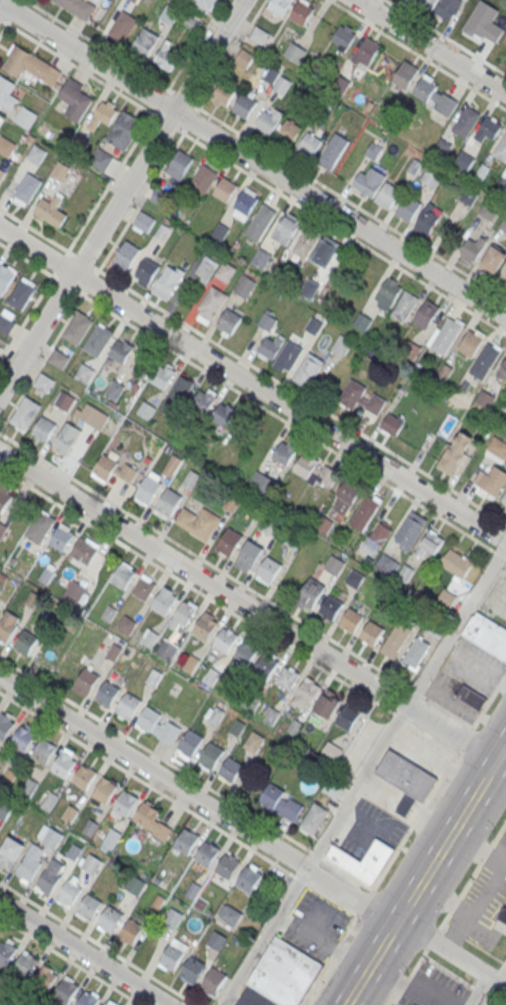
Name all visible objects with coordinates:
road: (0, 0)
building: (133, 1)
building: (205, 3)
building: (427, 3)
building: (279, 6)
building: (77, 8)
building: (448, 8)
building: (301, 11)
road: (10, 17)
building: (484, 23)
building: (122, 26)
building: (499, 34)
building: (258, 35)
building: (343, 36)
road: (446, 36)
building: (145, 42)
road: (432, 45)
building: (365, 51)
building: (295, 52)
road: (417, 54)
building: (244, 58)
building: (30, 66)
building: (270, 74)
building: (405, 75)
building: (340, 84)
building: (283, 85)
building: (7, 94)
building: (223, 94)
building: (434, 94)
building: (76, 99)
building: (244, 105)
building: (102, 114)
building: (25, 117)
building: (268, 119)
building: (1, 121)
building: (465, 121)
building: (487, 129)
building: (123, 130)
building: (48, 132)
building: (288, 134)
building: (5, 145)
building: (308, 146)
building: (442, 147)
building: (501, 148)
road: (265, 149)
building: (373, 150)
building: (332, 151)
building: (36, 154)
road: (252, 158)
building: (101, 160)
building: (464, 160)
building: (179, 164)
building: (415, 166)
building: (482, 171)
building: (1, 173)
road: (253, 176)
building: (431, 177)
building: (203, 179)
road: (111, 180)
building: (372, 182)
building: (502, 185)
building: (26, 189)
building: (225, 189)
building: (388, 195)
building: (468, 196)
building: (159, 197)
road: (122, 198)
building: (246, 202)
building: (408, 209)
building: (489, 209)
building: (51, 211)
road: (132, 215)
building: (143, 220)
building: (261, 221)
building: (427, 222)
building: (503, 225)
building: (284, 229)
building: (220, 231)
building: (305, 242)
building: (472, 249)
building: (324, 252)
building: (126, 255)
building: (260, 258)
building: (493, 260)
building: (207, 265)
building: (146, 271)
building: (225, 271)
building: (502, 274)
building: (6, 281)
building: (168, 281)
building: (245, 286)
building: (310, 287)
building: (388, 293)
building: (22, 297)
building: (212, 303)
building: (404, 304)
building: (426, 313)
building: (267, 320)
building: (362, 321)
building: (5, 323)
building: (229, 323)
building: (314, 325)
building: (78, 328)
building: (446, 335)
building: (98, 340)
building: (471, 342)
building: (341, 345)
building: (0, 346)
building: (270, 346)
building: (121, 350)
building: (289, 355)
building: (58, 358)
building: (485, 360)
road: (252, 365)
building: (309, 367)
building: (502, 370)
building: (444, 372)
building: (84, 373)
building: (163, 375)
building: (43, 382)
road: (252, 383)
building: (465, 386)
building: (116, 389)
building: (180, 389)
building: (362, 397)
building: (484, 397)
building: (65, 400)
building: (203, 400)
road: (252, 400)
building: (504, 405)
building: (146, 410)
building: (25, 413)
building: (225, 415)
building: (94, 416)
building: (392, 423)
building: (44, 428)
building: (66, 438)
building: (497, 447)
building: (285, 451)
building: (453, 456)
building: (172, 466)
building: (113, 470)
building: (315, 470)
building: (191, 480)
building: (491, 481)
building: (266, 487)
building: (148, 488)
building: (4, 497)
building: (346, 497)
building: (504, 499)
building: (169, 501)
building: (231, 504)
building: (364, 513)
building: (198, 521)
building: (324, 524)
building: (39, 527)
building: (273, 527)
building: (2, 529)
building: (410, 529)
building: (61, 537)
building: (294, 539)
building: (377, 539)
building: (229, 541)
building: (432, 542)
building: (84, 551)
building: (248, 556)
building: (13, 560)
building: (385, 563)
building: (456, 563)
building: (334, 565)
building: (268, 569)
building: (46, 575)
building: (123, 576)
building: (3, 577)
building: (354, 578)
road: (236, 580)
building: (144, 587)
building: (75, 590)
building: (310, 594)
parking lot: (495, 597)
building: (164, 600)
building: (330, 607)
road: (229, 609)
road: (251, 610)
building: (184, 612)
building: (351, 620)
building: (126, 624)
building: (8, 625)
building: (205, 626)
building: (372, 632)
building: (487, 634)
building: (395, 639)
building: (225, 640)
building: (25, 642)
building: (167, 650)
building: (416, 651)
building: (245, 653)
parking lot: (474, 665)
building: (265, 666)
building: (63, 671)
building: (286, 677)
building: (86, 681)
building: (107, 693)
building: (304, 694)
parking lot: (451, 696)
building: (471, 697)
building: (128, 705)
building: (327, 705)
building: (214, 714)
building: (347, 717)
building: (5, 725)
building: (156, 725)
building: (23, 738)
building: (254, 741)
building: (190, 743)
building: (44, 751)
building: (331, 752)
building: (211, 755)
building: (64, 765)
building: (231, 768)
road: (186, 773)
building: (406, 774)
road: (363, 775)
building: (84, 776)
building: (332, 787)
building: (29, 788)
building: (104, 790)
building: (49, 801)
building: (280, 802)
building: (125, 803)
road: (178, 803)
building: (406, 805)
building: (5, 810)
building: (70, 814)
building: (146, 814)
building: (314, 818)
building: (91, 827)
parking lot: (368, 828)
road: (252, 831)
building: (53, 838)
building: (111, 838)
road: (404, 839)
building: (187, 841)
building: (10, 852)
building: (74, 852)
building: (208, 852)
building: (363, 860)
building: (30, 863)
building: (92, 864)
building: (228, 865)
road: (425, 874)
road: (472, 874)
building: (49, 876)
building: (248, 879)
building: (136, 885)
building: (69, 894)
building: (89, 907)
building: (231, 915)
building: (173, 918)
building: (110, 919)
building: (502, 919)
parking lot: (314, 924)
building: (131, 931)
road: (433, 938)
road: (100, 943)
road: (474, 943)
building: (6, 951)
road: (82, 953)
building: (171, 957)
road: (72, 960)
building: (25, 965)
building: (192, 970)
building: (284, 972)
road: (409, 976)
building: (44, 978)
road: (463, 978)
building: (213, 981)
road: (488, 984)
building: (65, 991)
parking lot: (253, 997)
building: (87, 999)
building: (106, 1004)

